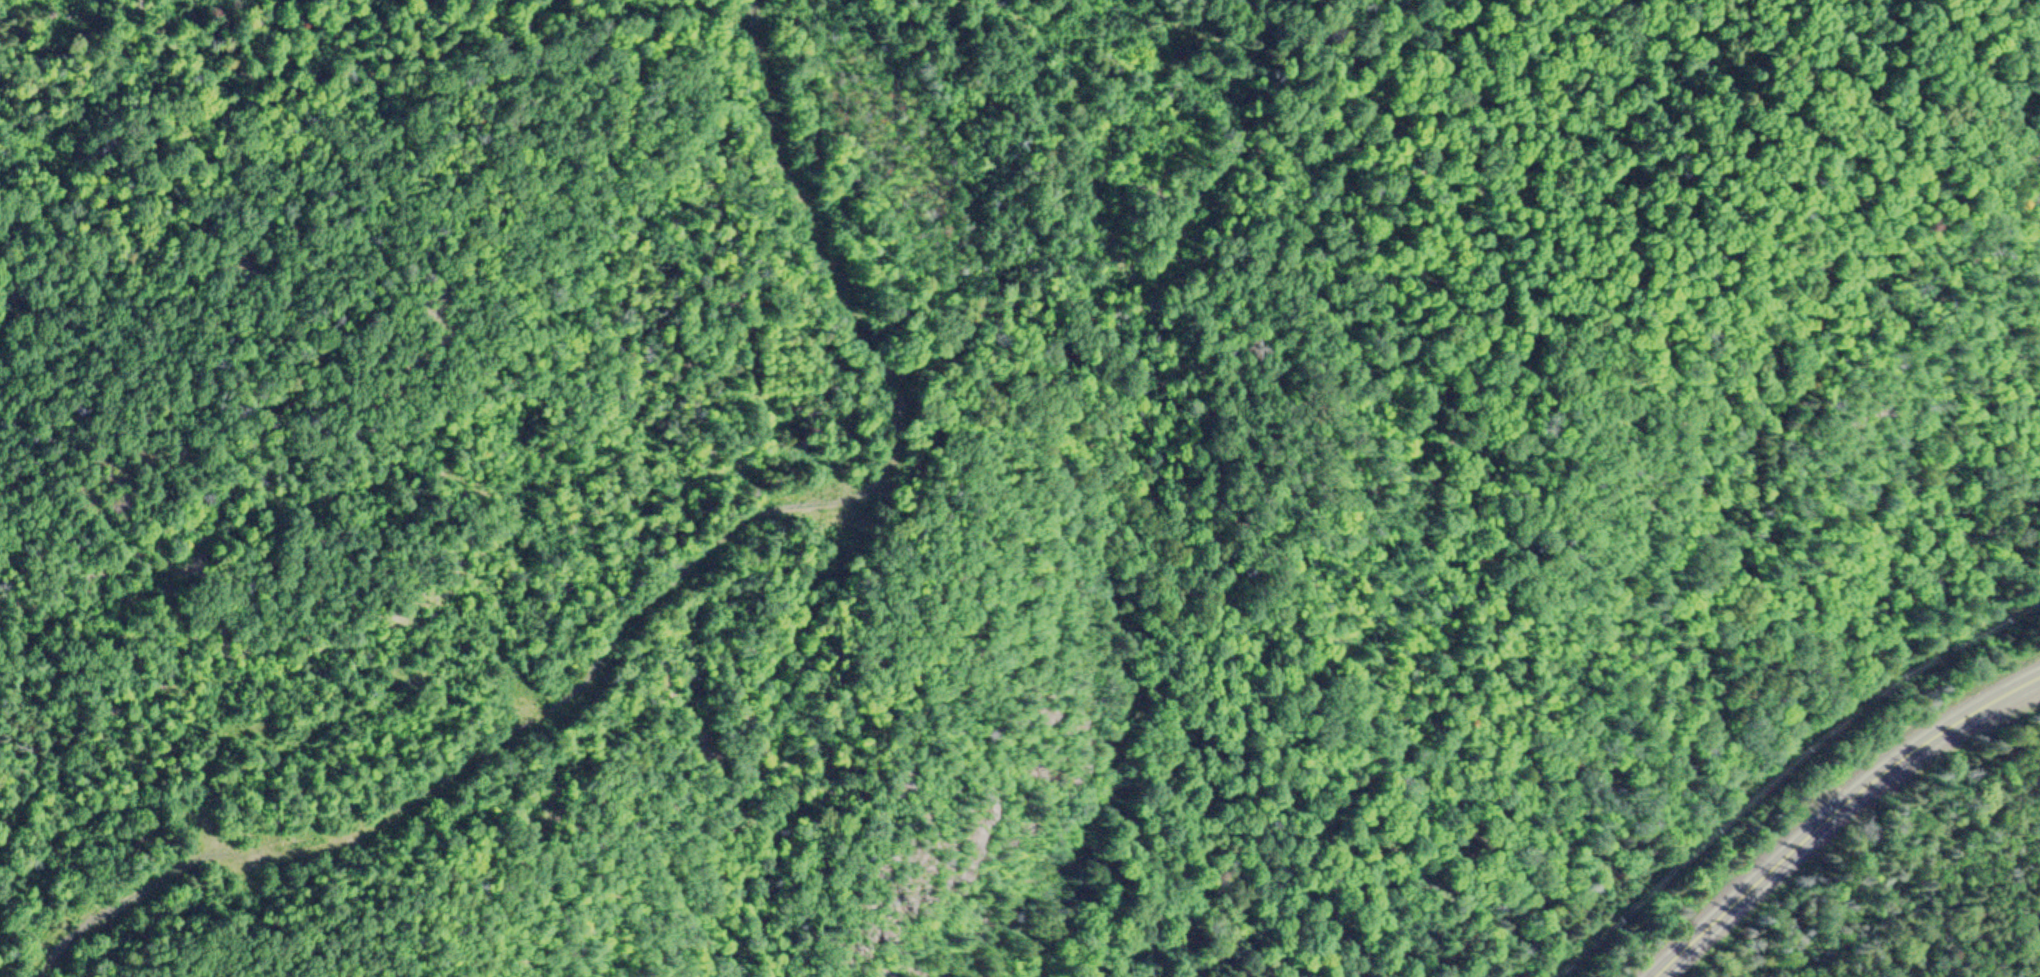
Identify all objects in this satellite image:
road: (1827, 806)

